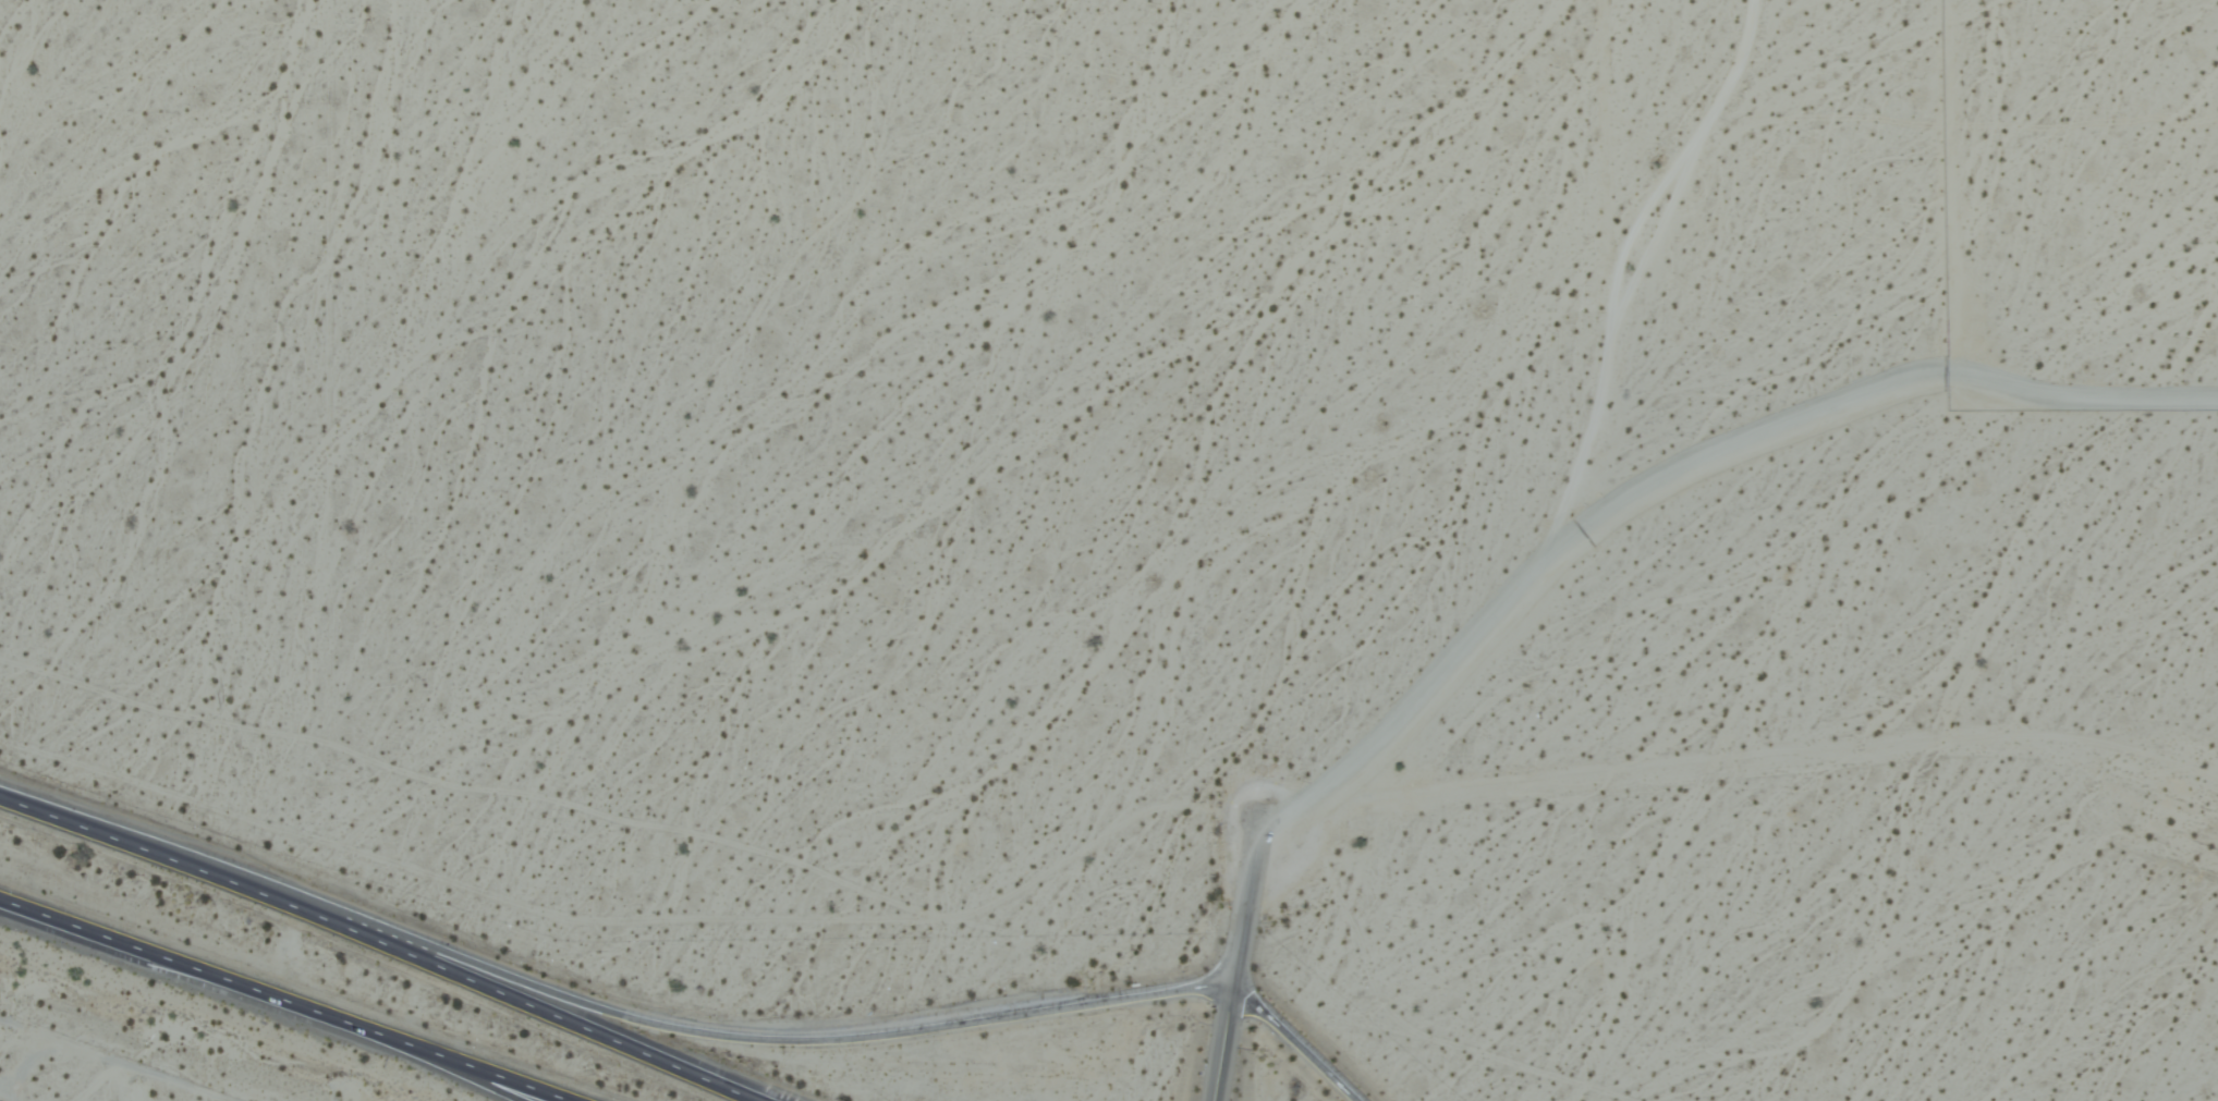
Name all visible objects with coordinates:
solar farm: (2081, 205)
road: (1580, 454)
road: (1246, 902)
road: (399, 942)
road: (291, 996)
road: (763, 1033)
road: (1296, 1042)
road: (1220, 1045)
road: (477, 1071)

